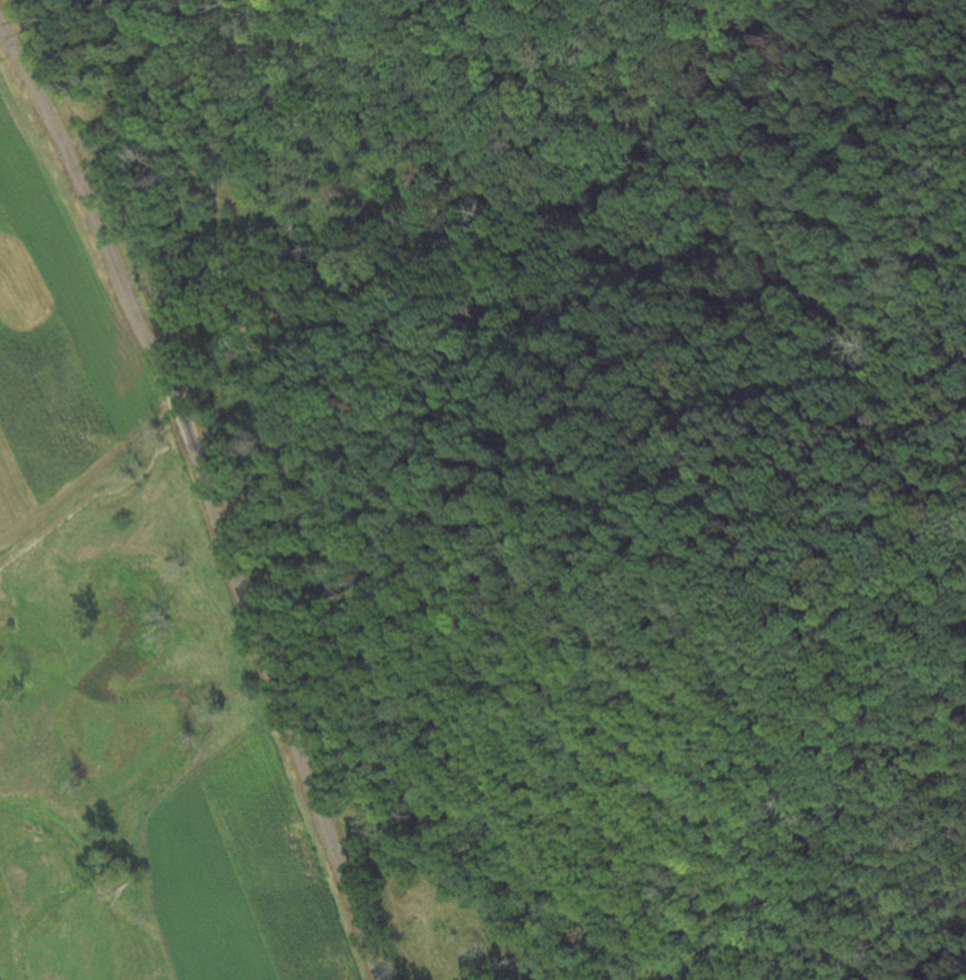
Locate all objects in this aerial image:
road: (205, 498)

